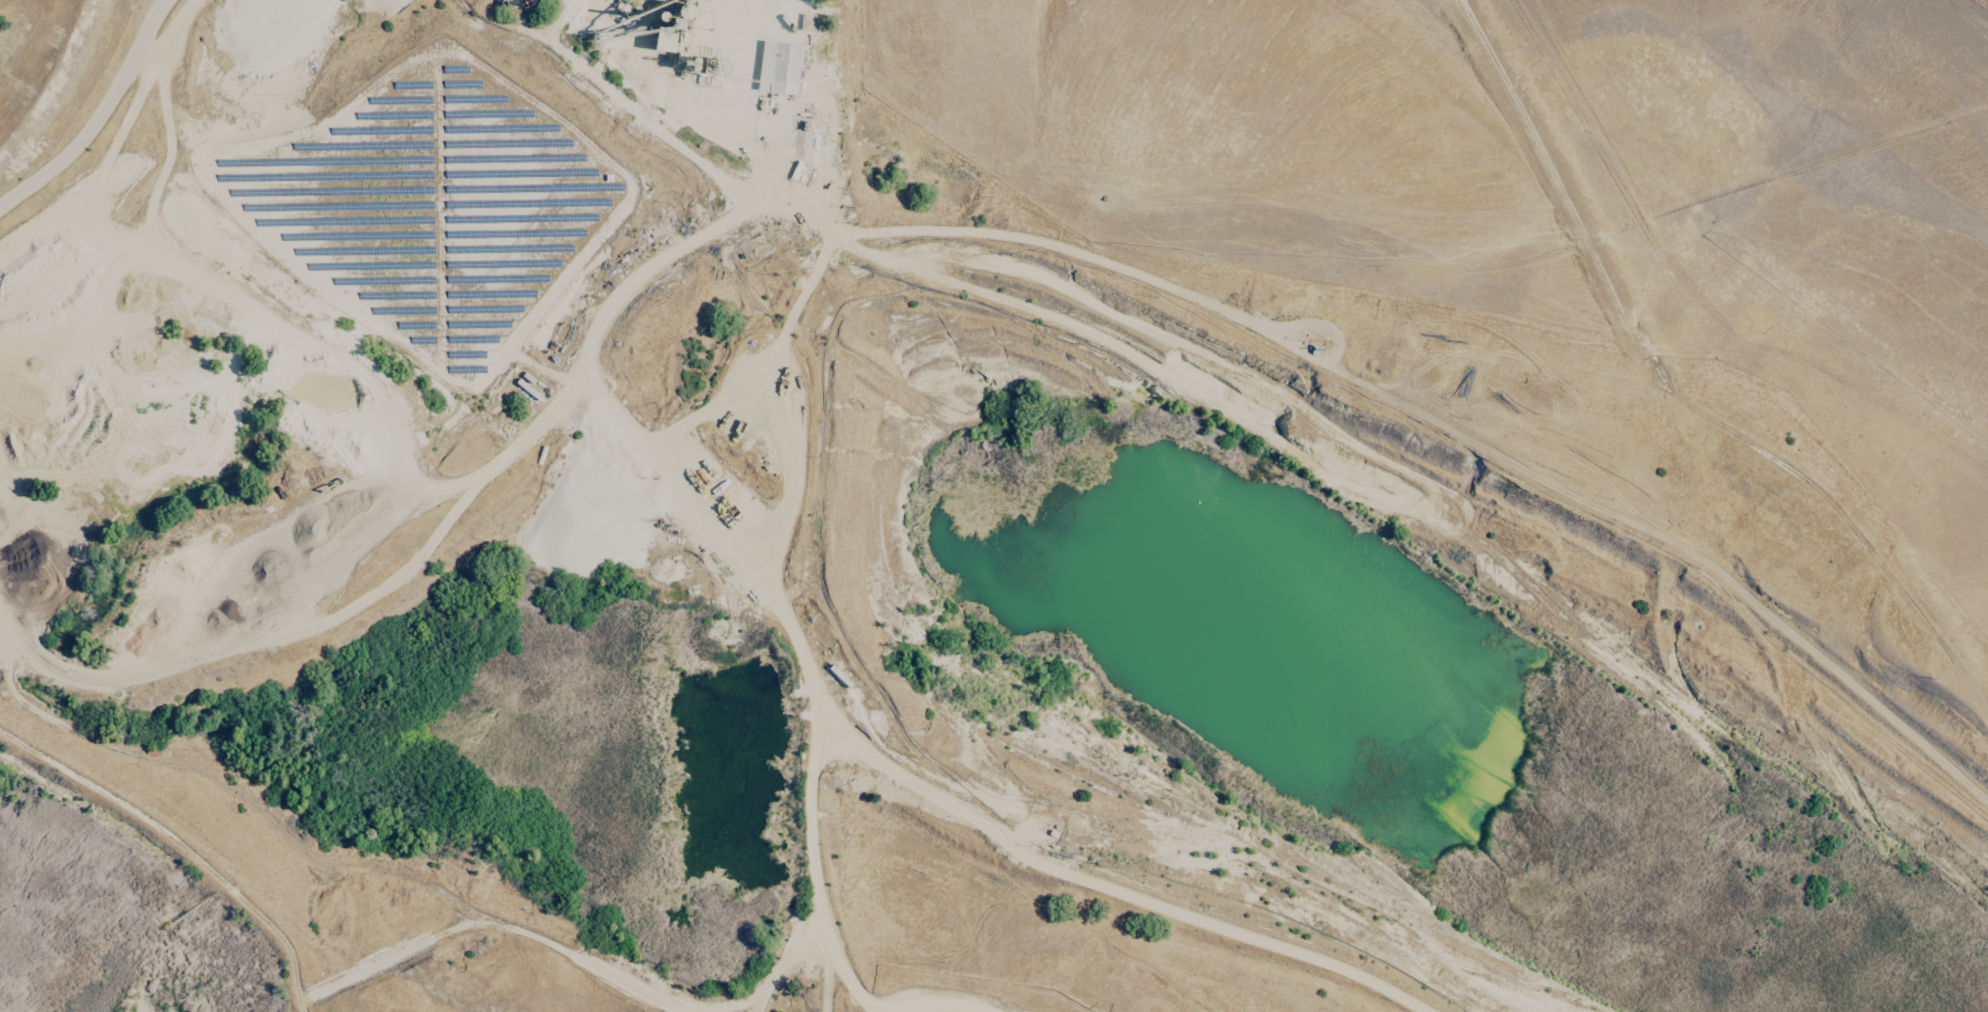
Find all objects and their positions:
building: (807, 22)
road: (144, 26)
road: (498, 43)
building: (778, 67)
road: (241, 228)
road: (914, 231)
crop: (1487, 313)
road: (1339, 352)
road: (768, 359)
road: (790, 481)
road: (440, 537)
road: (811, 801)
road: (462, 926)

